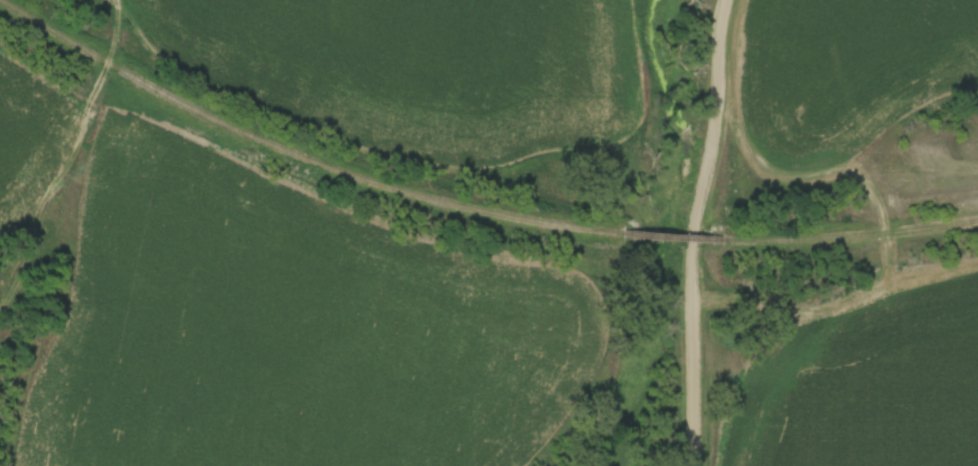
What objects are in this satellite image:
crop: (429, 67)
railway: (302, 156)
road: (694, 231)
railway: (672, 238)
railway: (851, 240)

